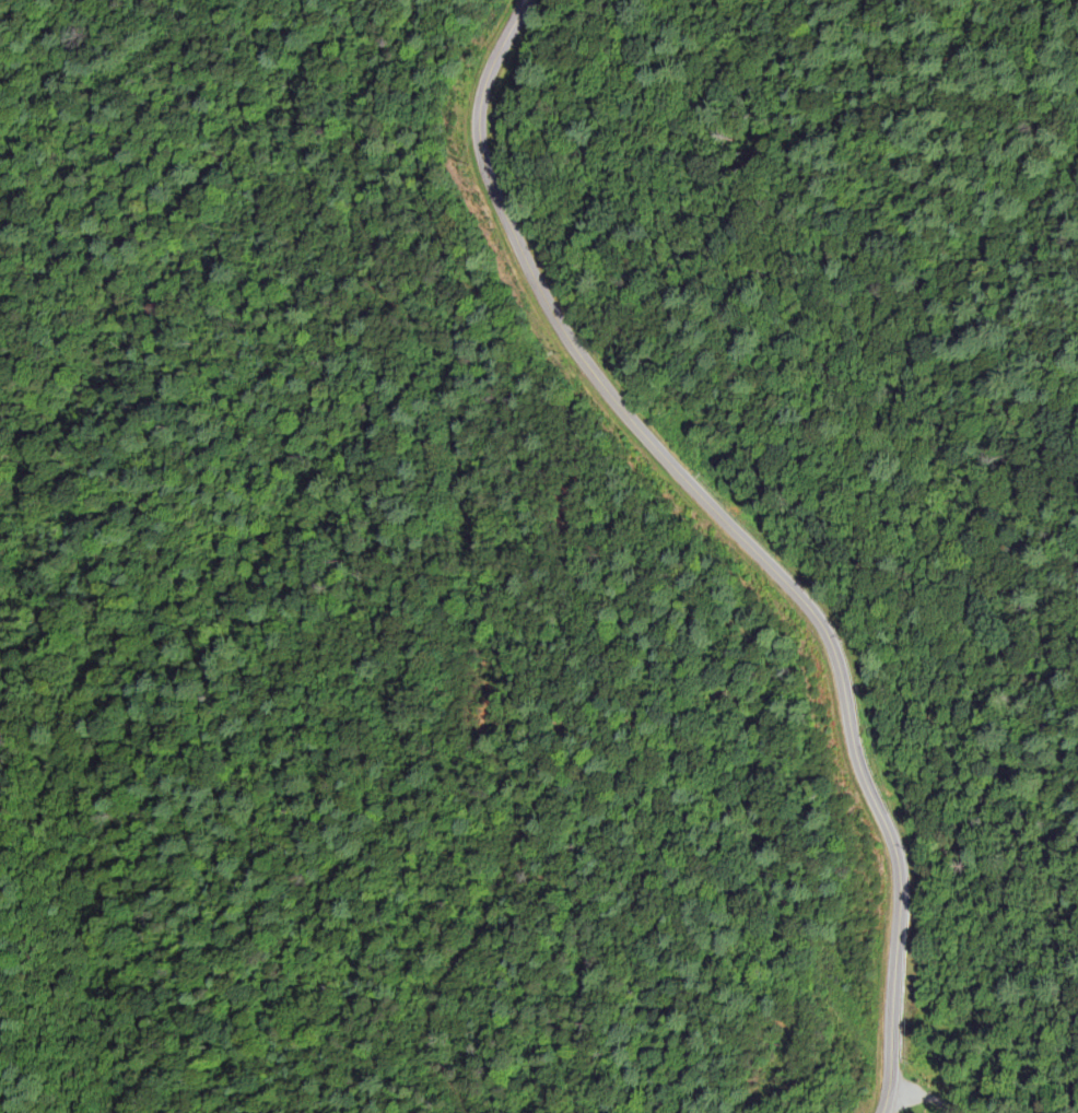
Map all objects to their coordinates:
road: (741, 531)
road: (921, 1094)

